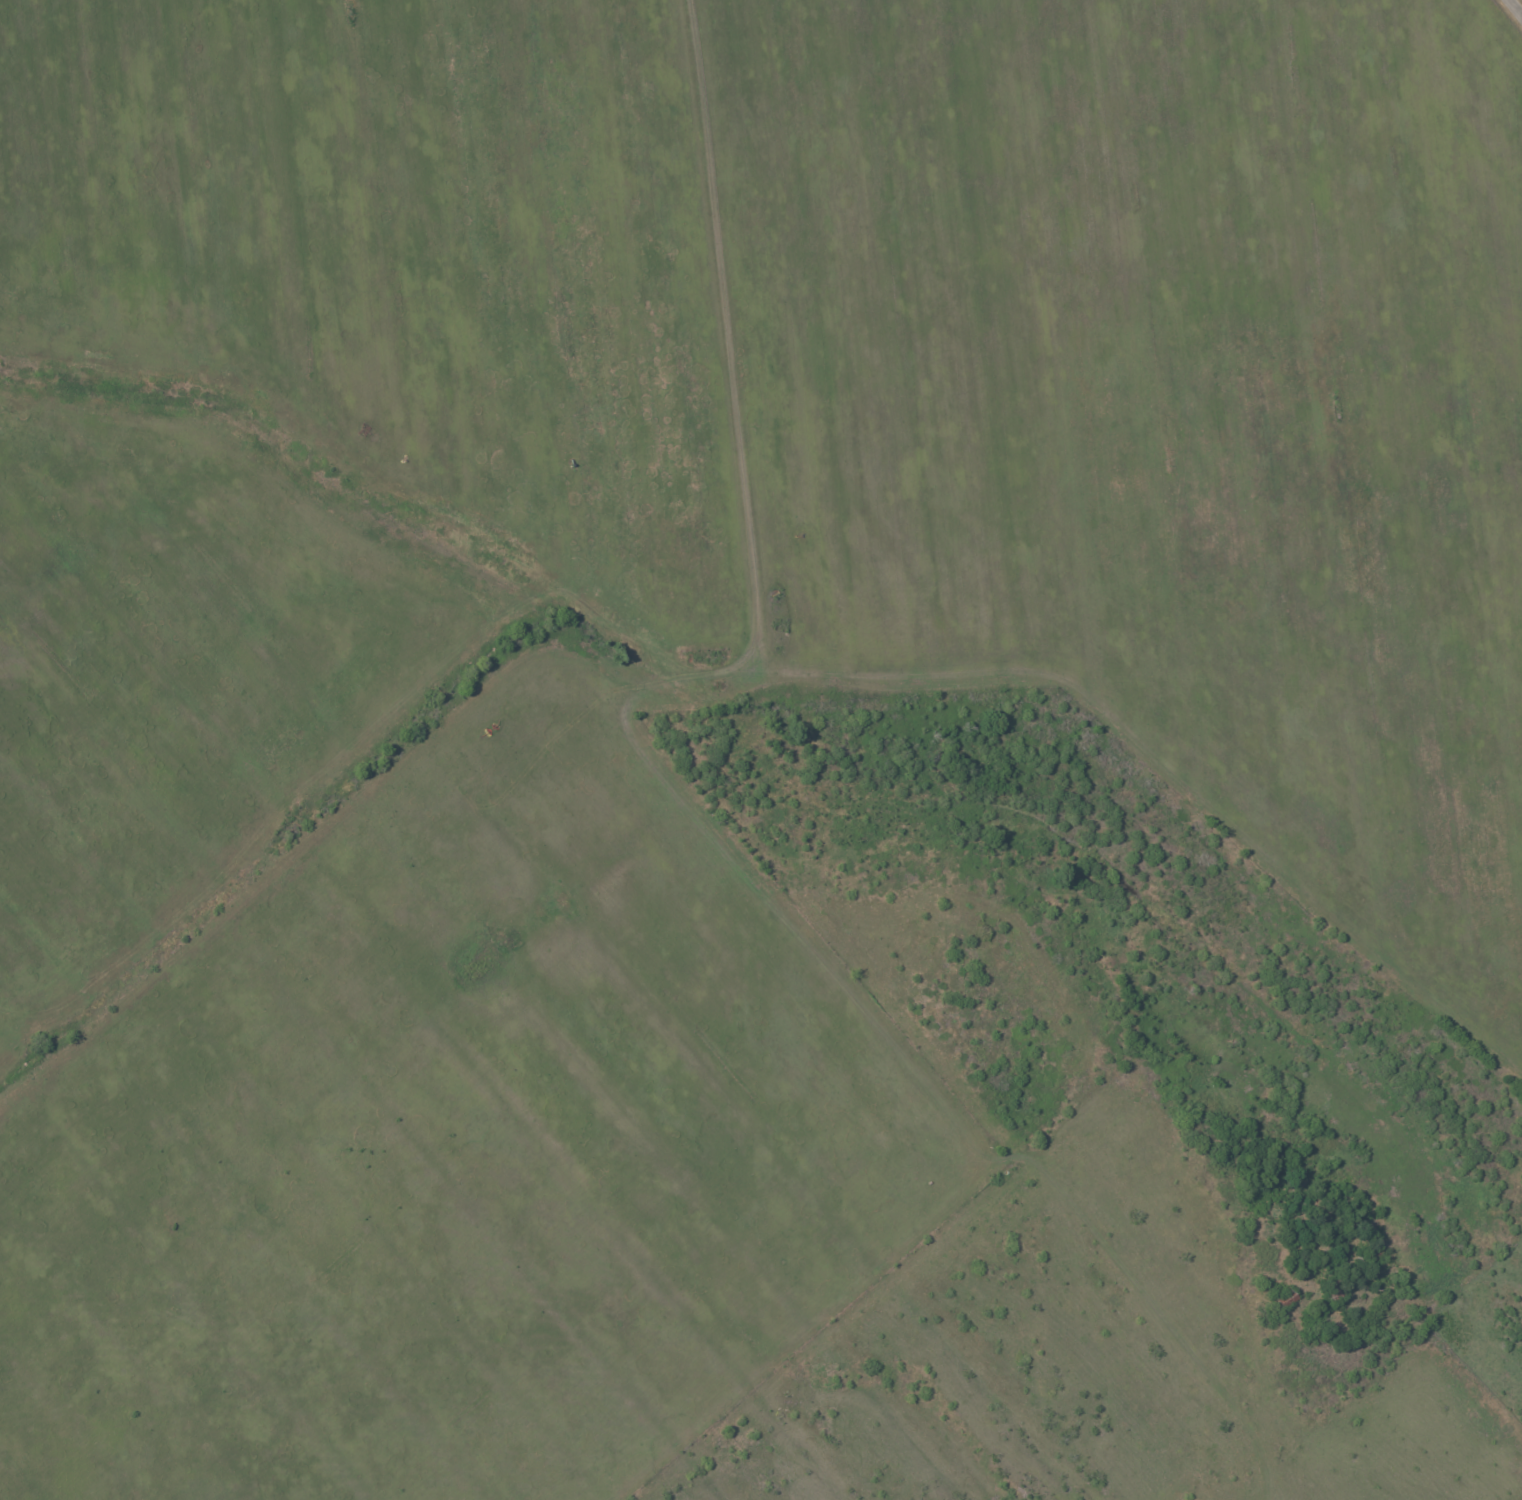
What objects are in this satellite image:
road: (1515, 8)

